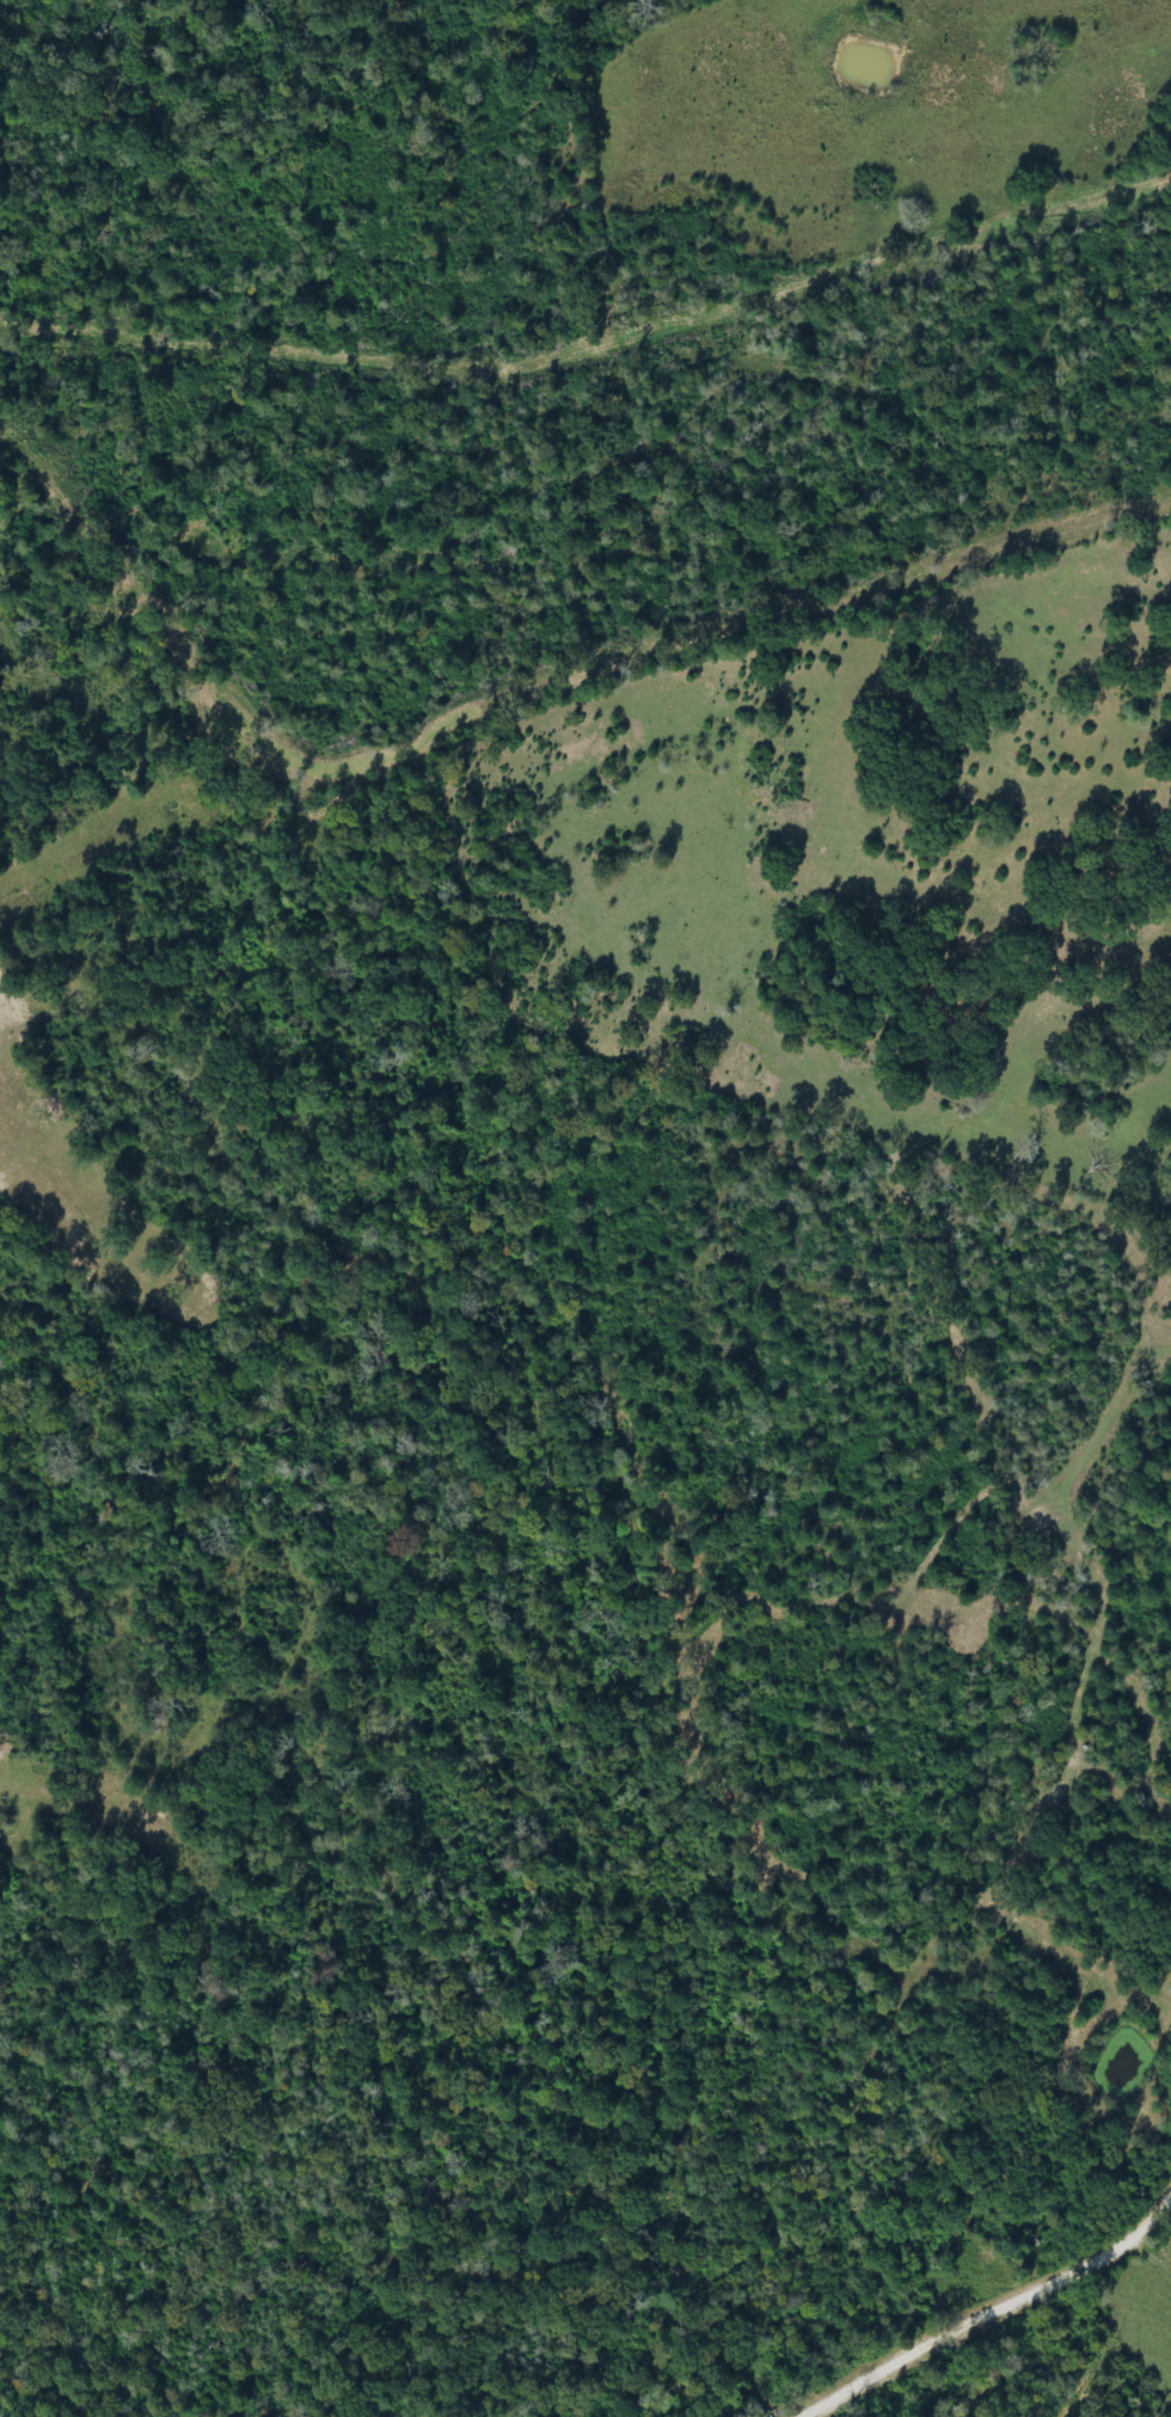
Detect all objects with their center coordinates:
road: (1016, 2307)

